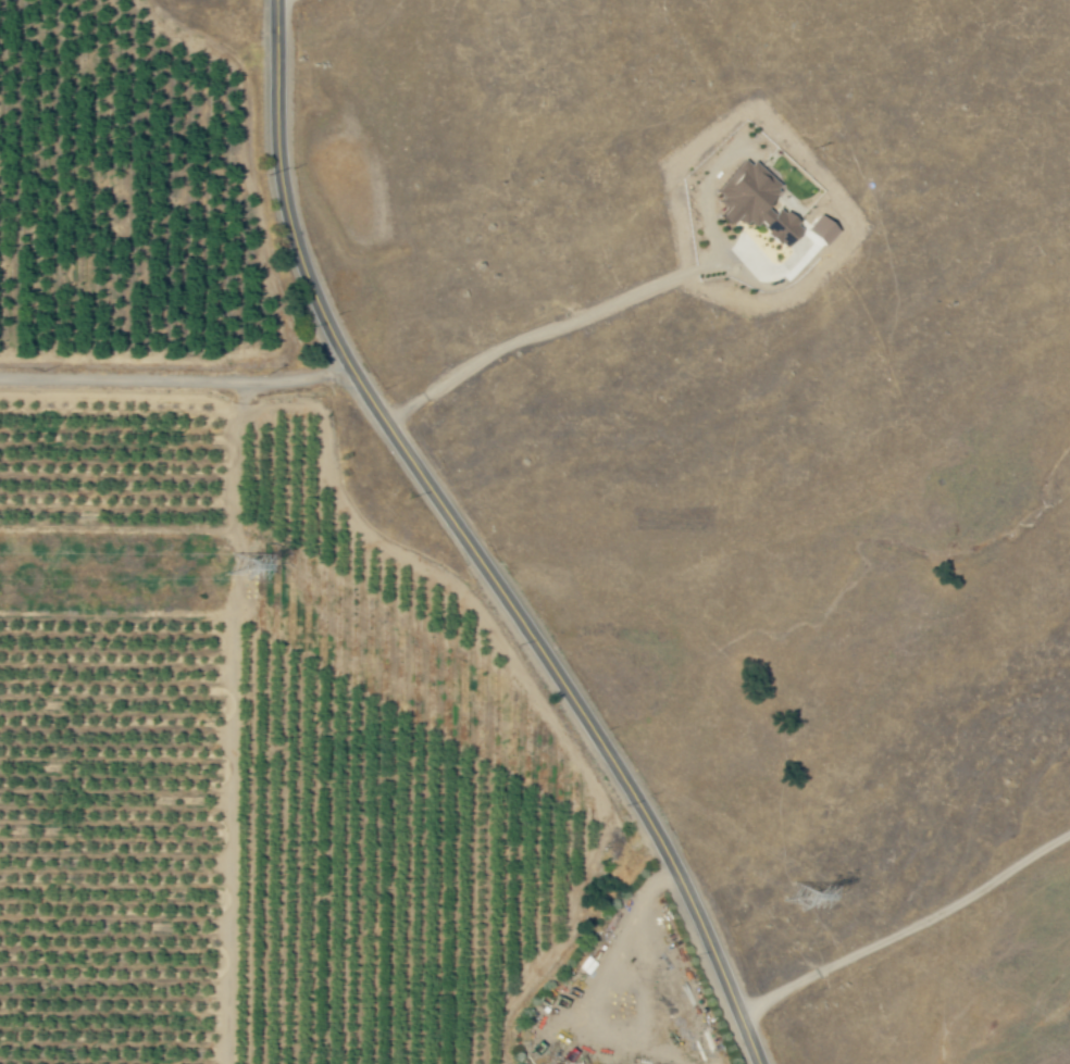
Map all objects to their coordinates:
road: (293, 193)
building: (759, 202)
building: (825, 228)
road: (562, 325)
road: (182, 373)
power tower: (227, 564)
road: (590, 701)
power tower: (786, 893)
road: (904, 929)
road: (593, 1005)

